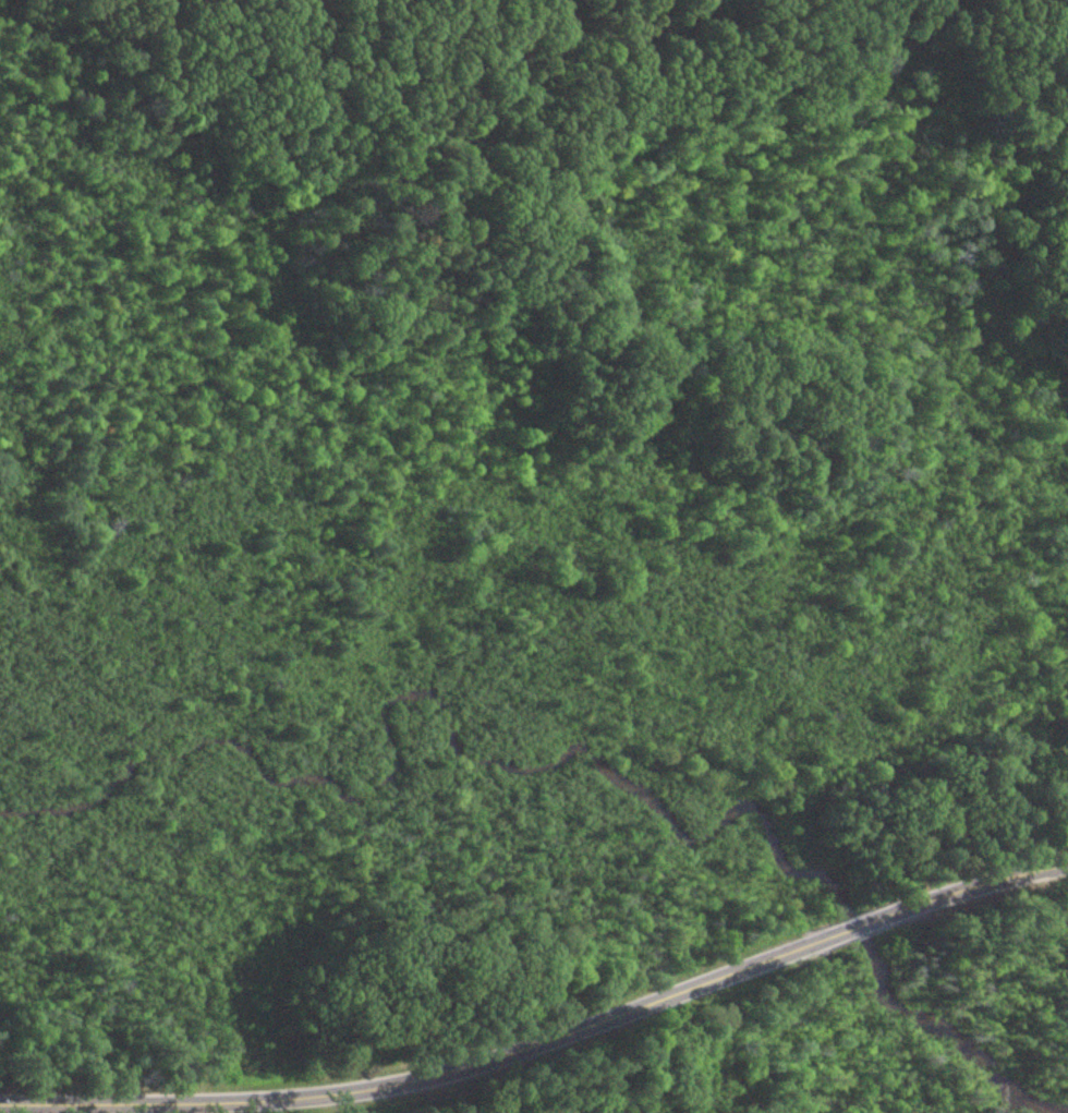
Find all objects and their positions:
road: (987, 885)
road: (865, 926)
road: (421, 1080)

